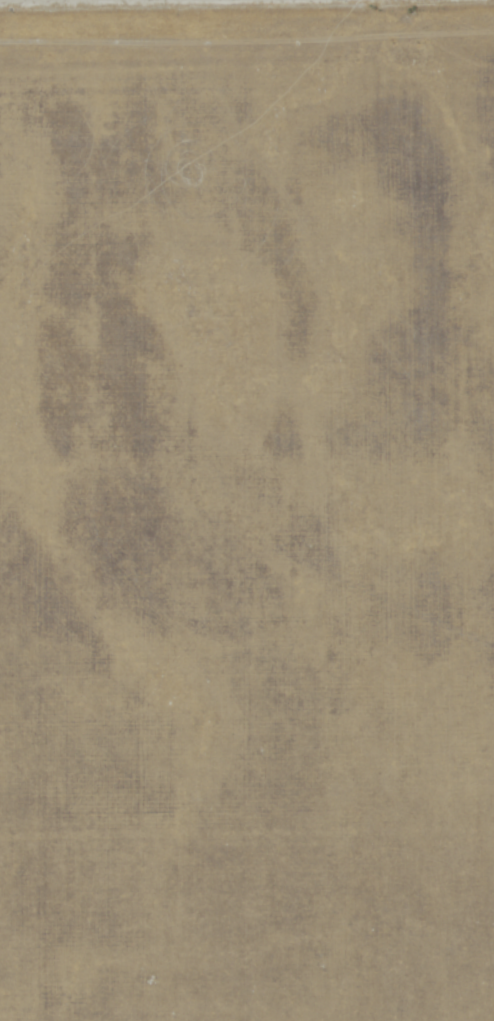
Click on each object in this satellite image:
crop: (247, 510)

